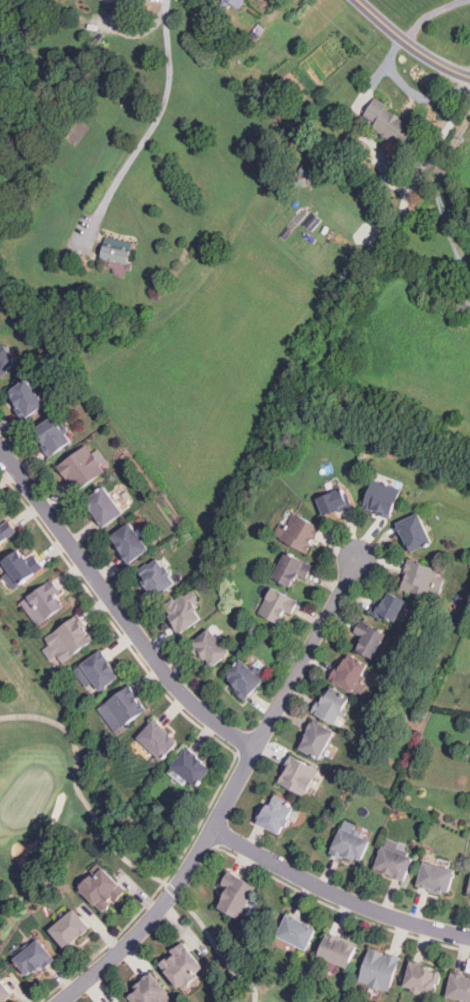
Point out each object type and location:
building: (129, 0)
building: (238, 3)
road: (424, 13)
road: (410, 44)
building: (32, 104)
road: (160, 113)
building: (391, 124)
road: (442, 170)
building: (309, 172)
building: (376, 218)
building: (118, 251)
building: (460, 299)
building: (6, 359)
building: (26, 399)
building: (54, 436)
building: (82, 469)
building: (383, 498)
building: (335, 503)
building: (104, 507)
building: (302, 530)
building: (7, 531)
building: (280, 532)
building: (415, 533)
building: (130, 543)
building: (23, 566)
building: (293, 568)
building: (420, 578)
building: (158, 579)
building: (9, 580)
building: (48, 600)
building: (277, 605)
road: (118, 606)
building: (389, 608)
building: (185, 613)
building: (370, 637)
building: (73, 639)
building: (209, 651)
building: (101, 671)
building: (350, 673)
building: (247, 680)
building: (332, 705)
building: (123, 708)
building: (317, 739)
building: (160, 740)
building: (192, 767)
building: (297, 775)
road: (232, 796)
park: (85, 811)
building: (277, 816)
building: (351, 847)
building: (395, 864)
building: (439, 879)
building: (100, 886)
road: (337, 895)
building: (236, 896)
building: (70, 930)
building: (298, 930)
building: (339, 950)
building: (37, 957)
building: (181, 968)
building: (381, 969)
building: (424, 978)
building: (460, 986)
building: (4, 991)
building: (150, 991)

